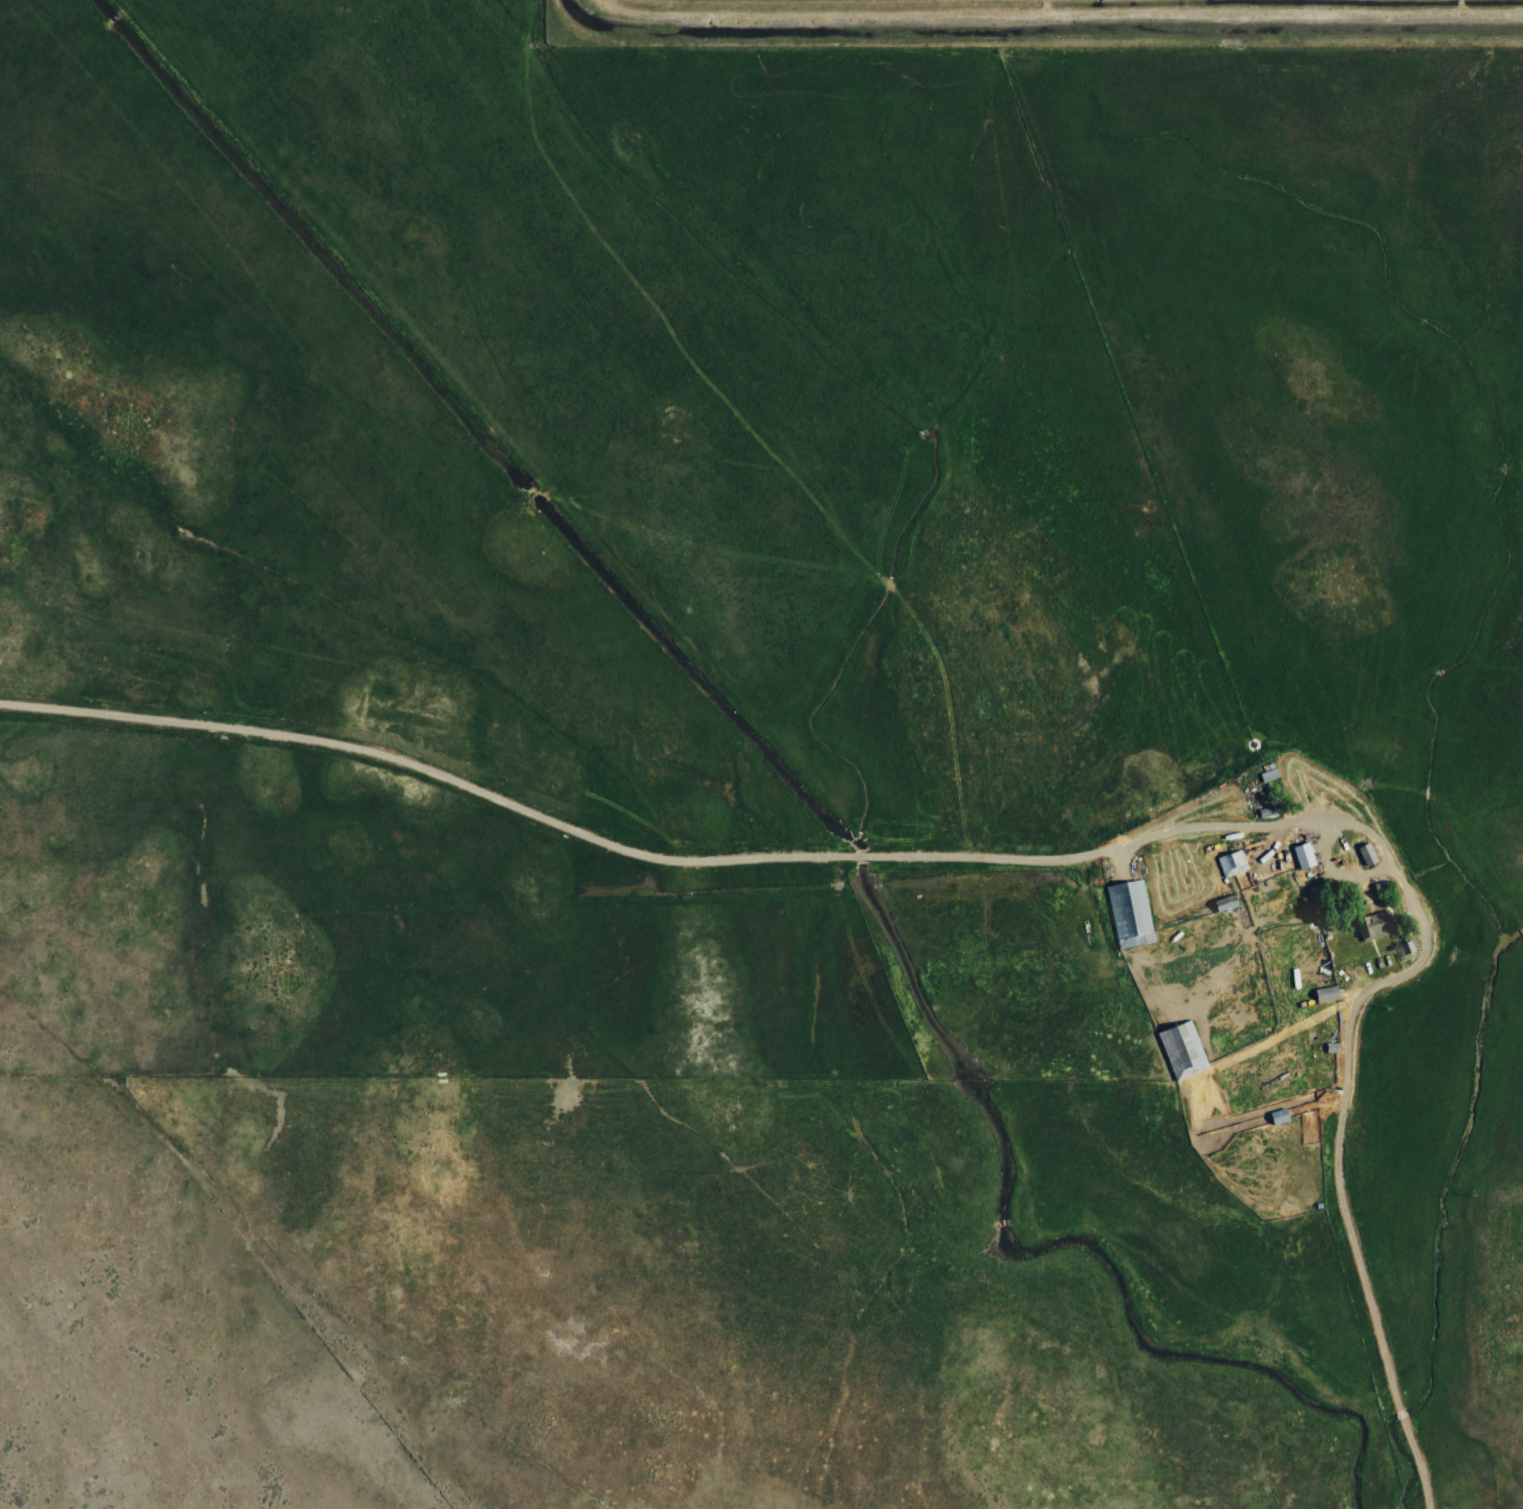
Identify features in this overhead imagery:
crop: (1048, 14)
crop: (757, 763)
building: (1366, 853)
building: (1303, 855)
road: (1045, 860)
building: (1225, 902)
building: (1129, 913)
building: (1373, 925)
building: (1325, 993)
building: (1182, 1049)
building: (1296, 1108)
building: (1278, 1116)

